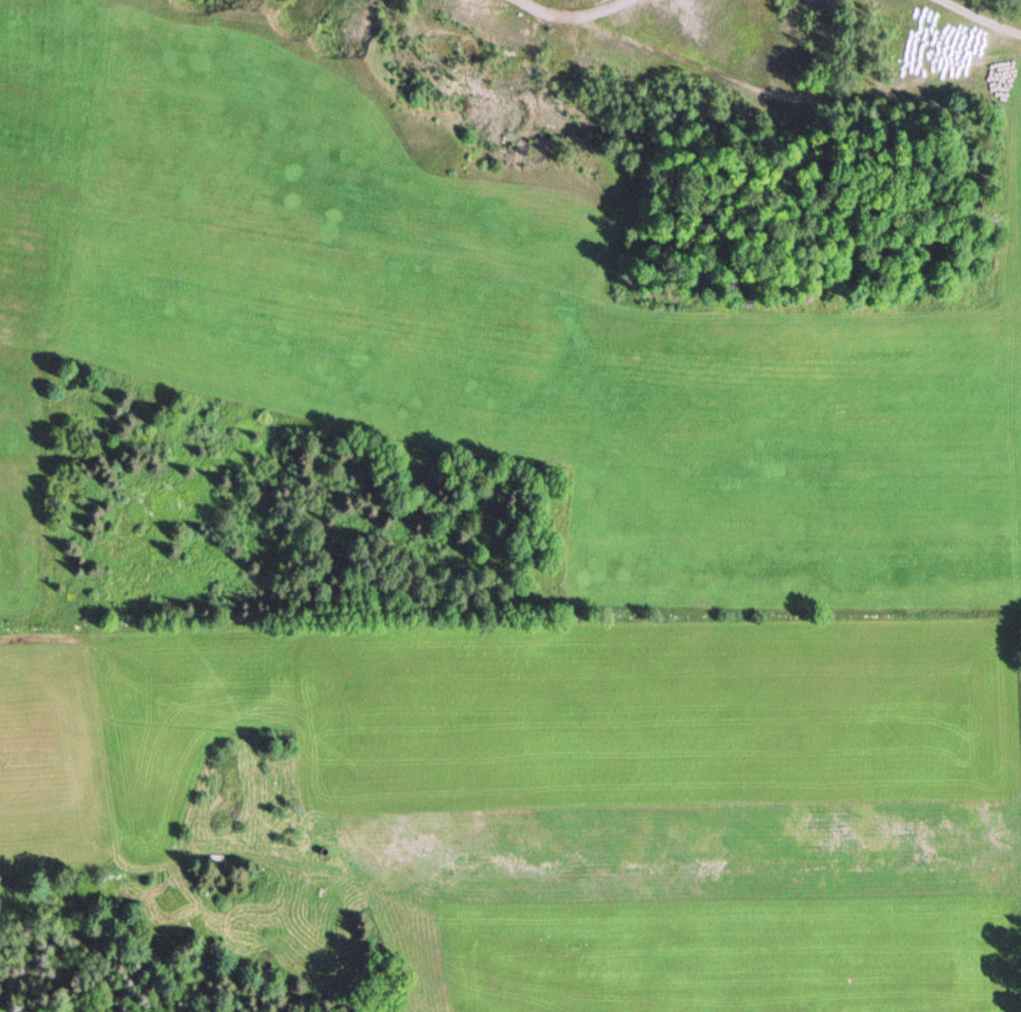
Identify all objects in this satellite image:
road: (253, 643)

